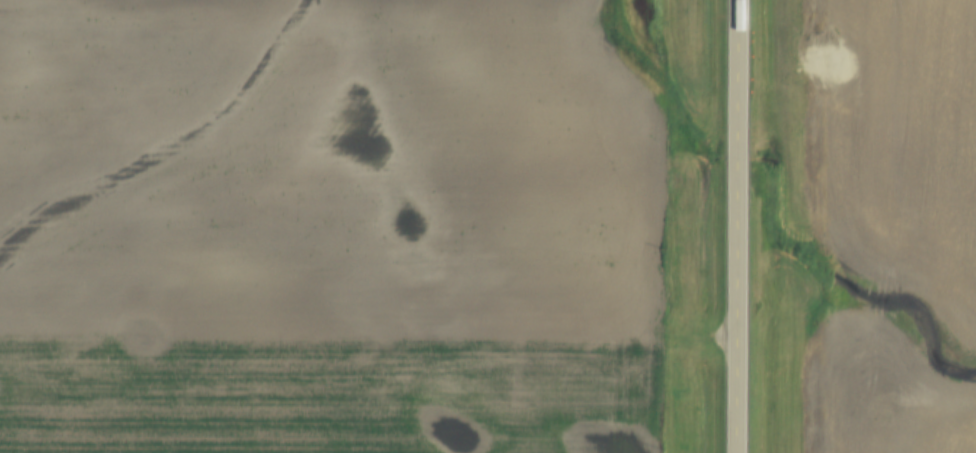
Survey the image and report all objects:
road: (741, 226)

